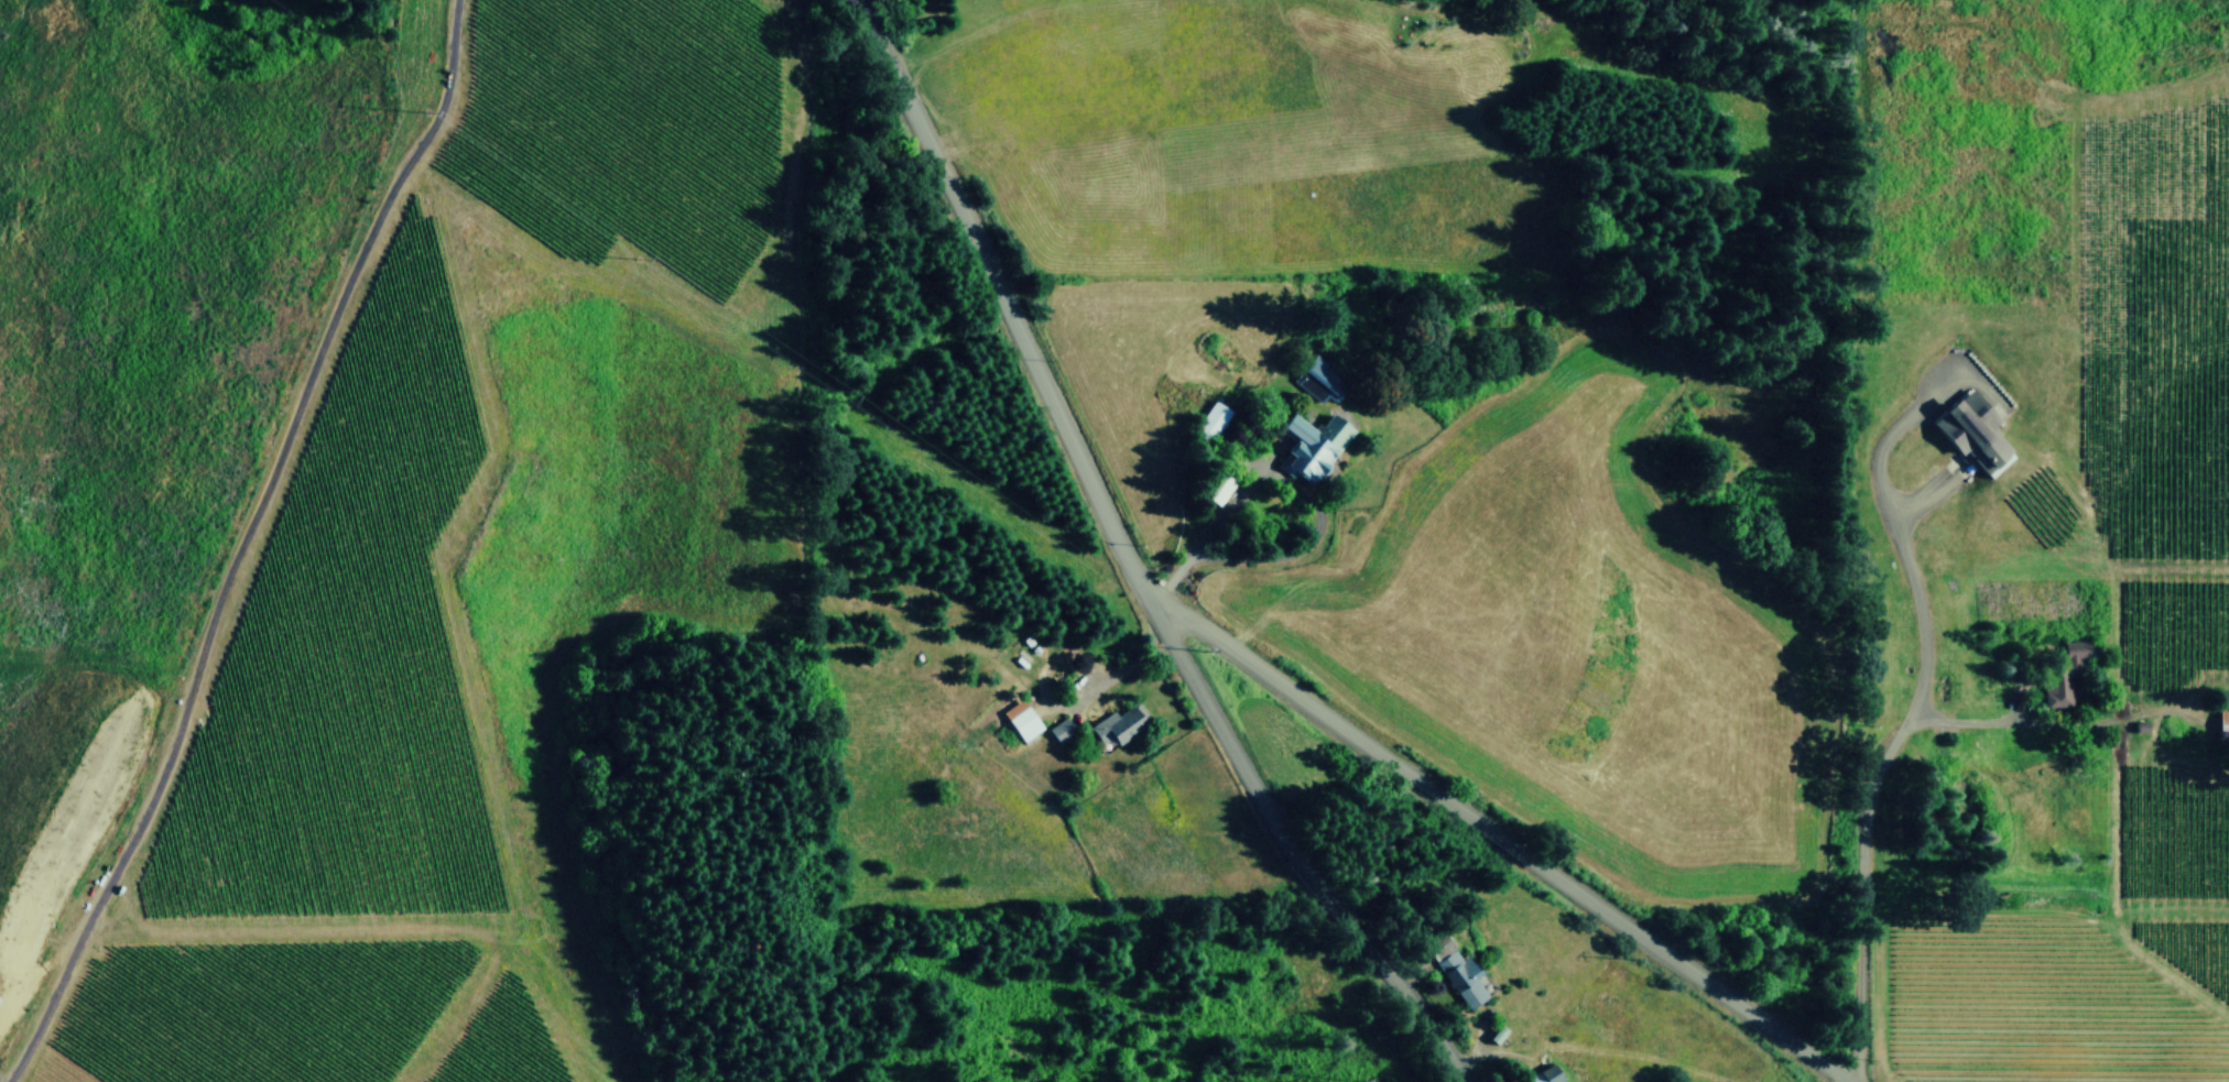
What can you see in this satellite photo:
road: (1007, 308)
building: (1213, 419)
building: (1971, 430)
building: (1312, 445)
building: (1220, 488)
road: (1209, 527)
building: (2066, 674)
road: (1907, 714)
building: (1023, 720)
road: (1975, 721)
building: (1120, 723)
building: (1062, 729)
road: (1509, 845)
road: (1294, 859)
building: (1439, 946)
building: (1461, 977)
building: (1546, 1075)
road: (1844, 1081)

